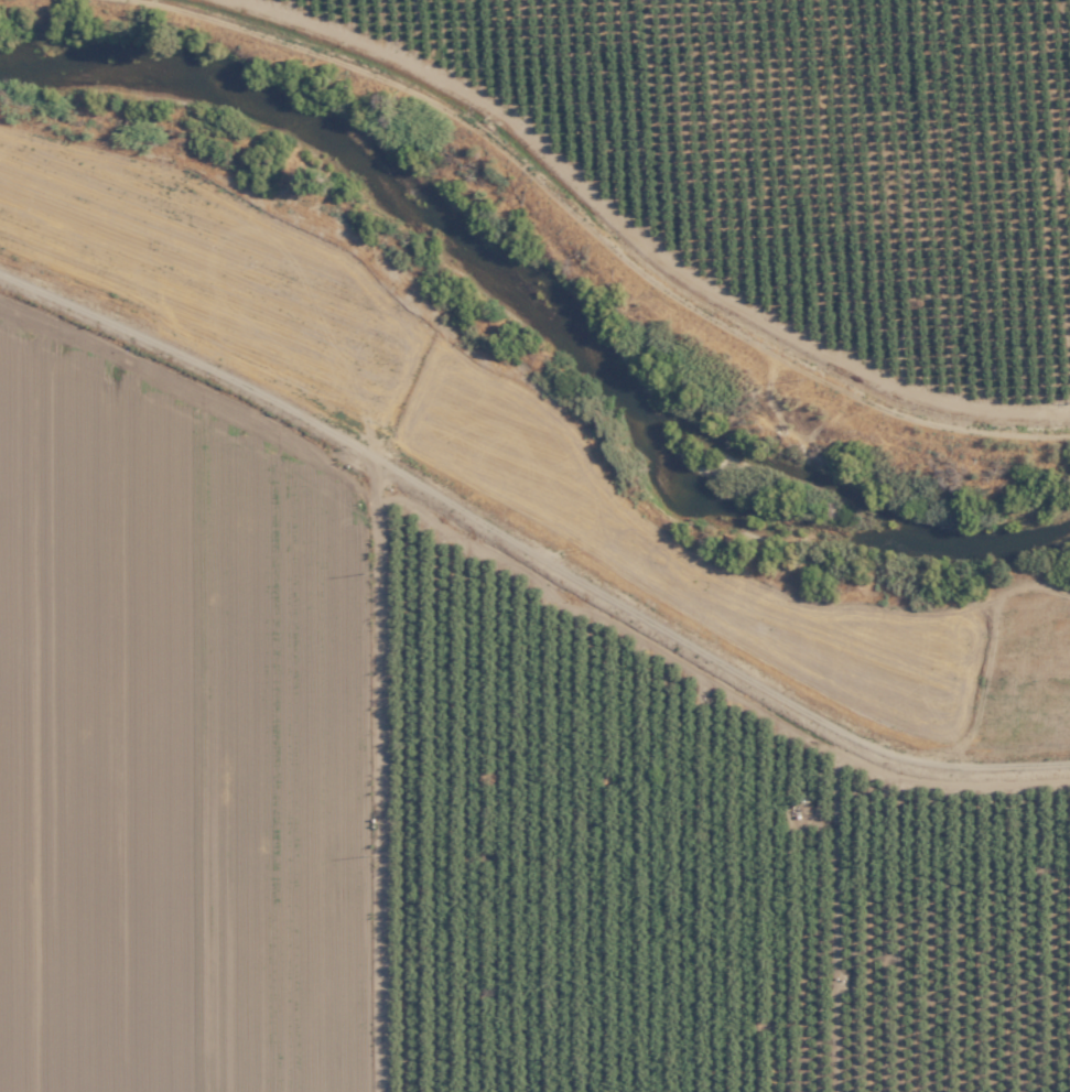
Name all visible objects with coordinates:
road: (516, 51)
crop: (800, 159)
river: (537, 284)
road: (529, 544)
crop: (184, 734)

